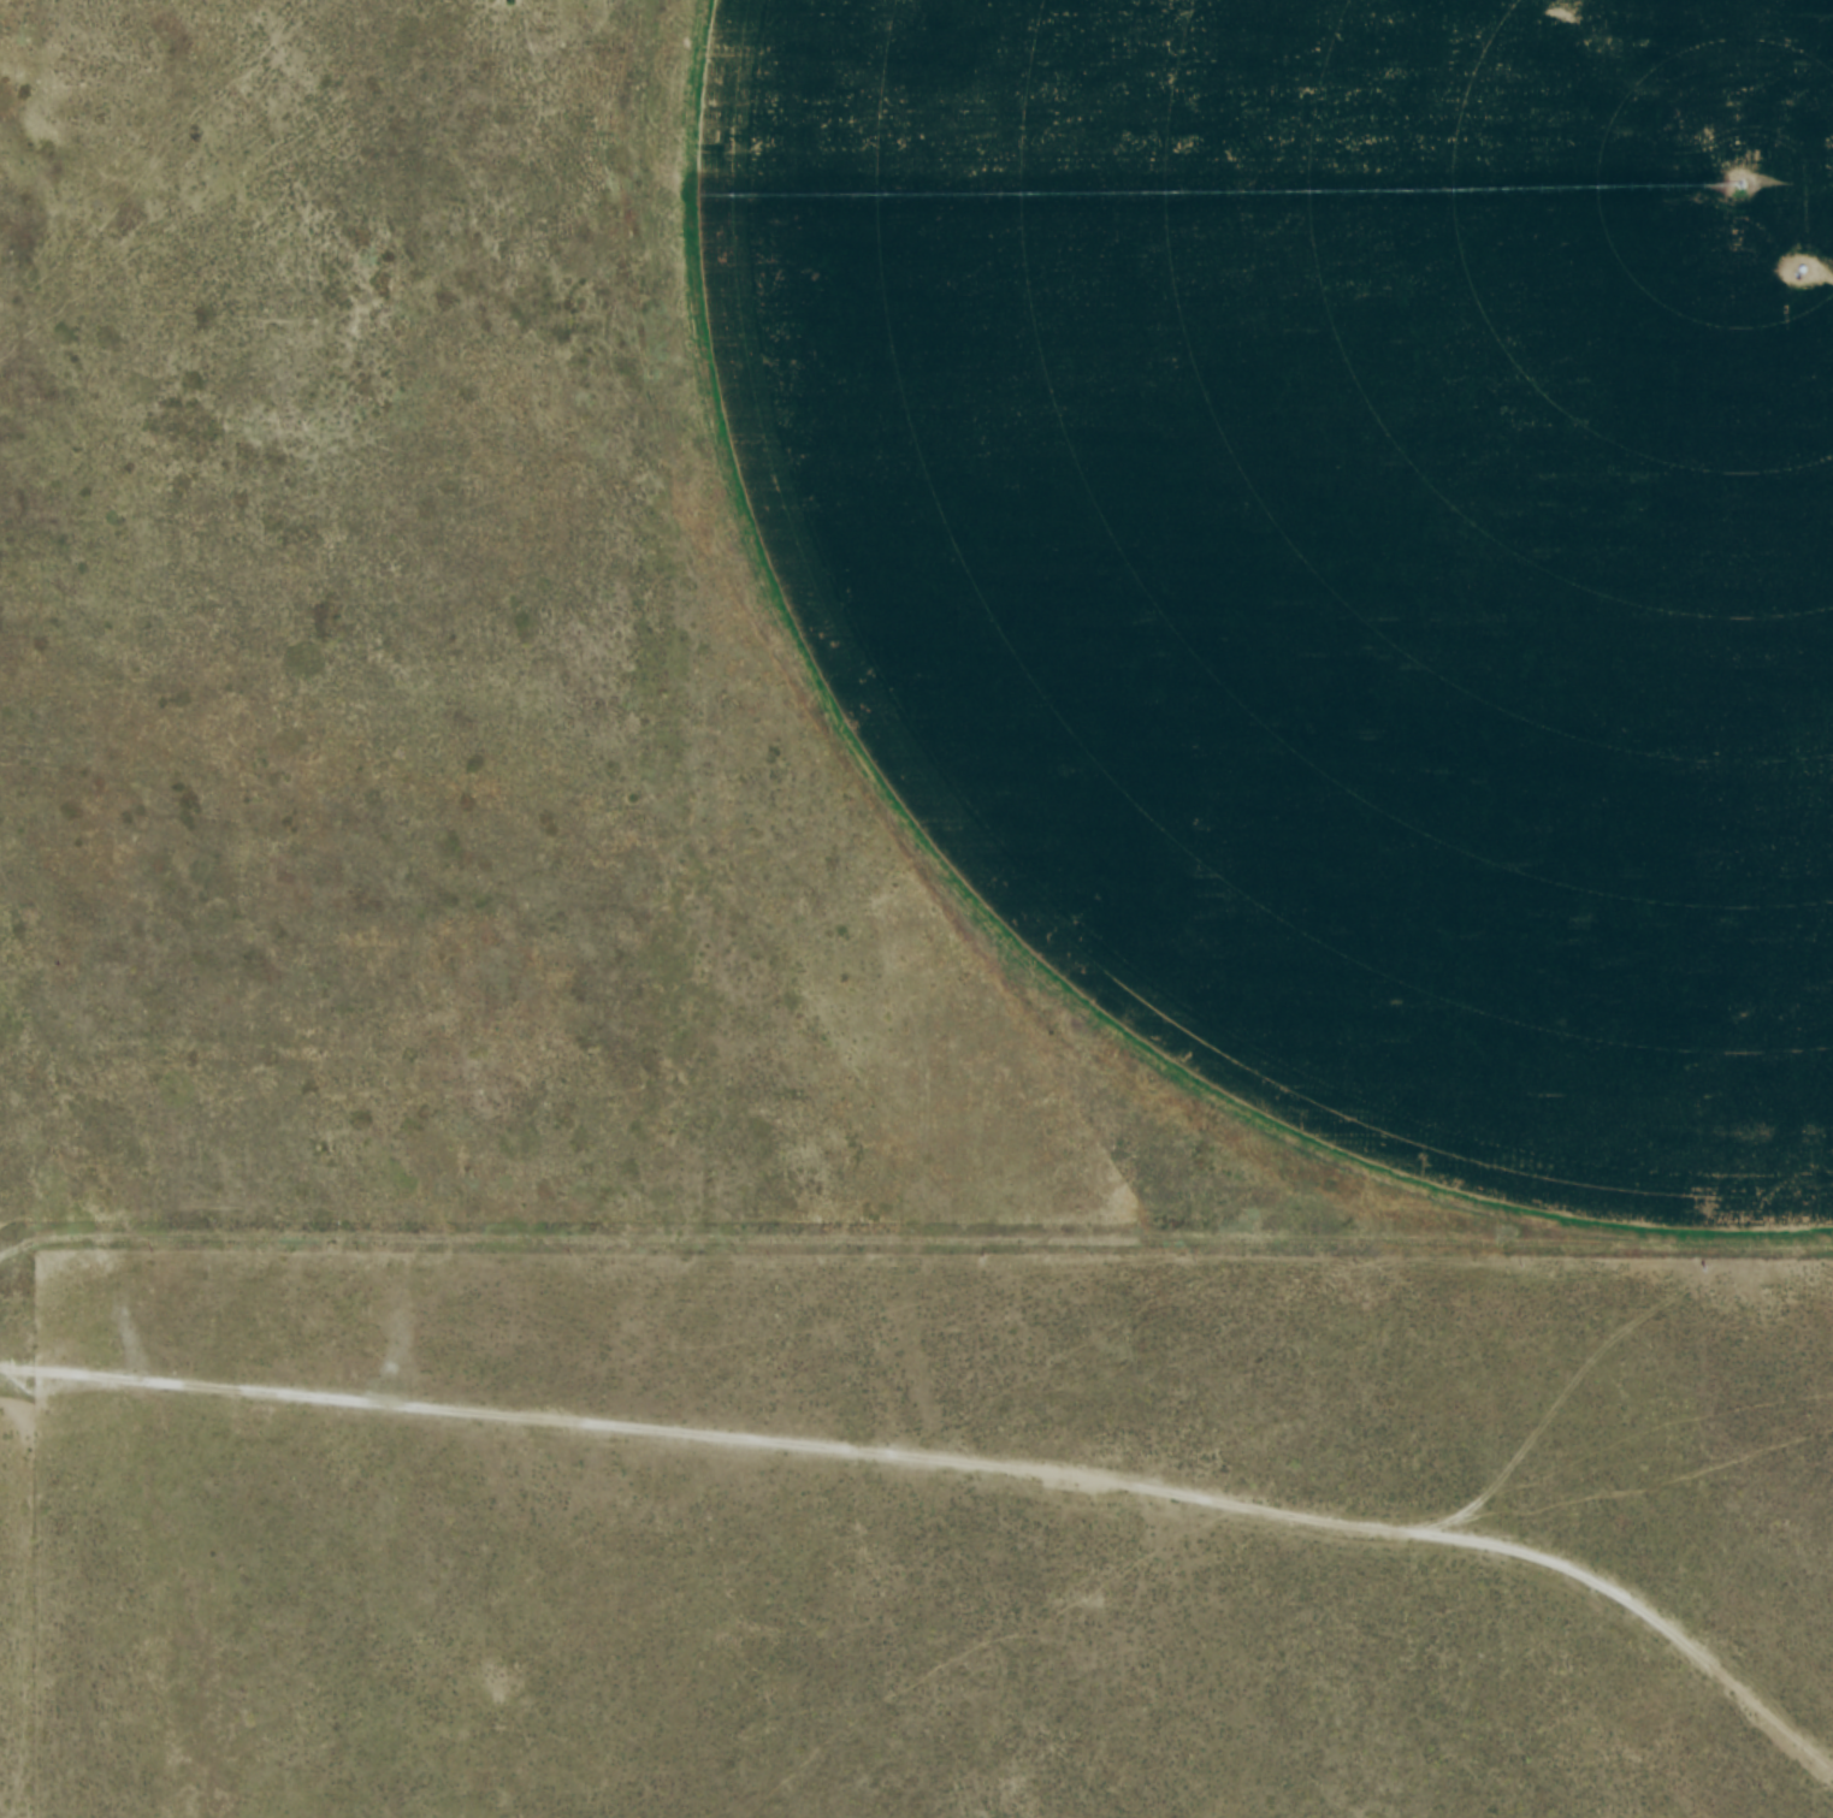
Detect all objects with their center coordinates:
crop: (1343, 534)
road: (17, 1370)
road: (969, 1464)

